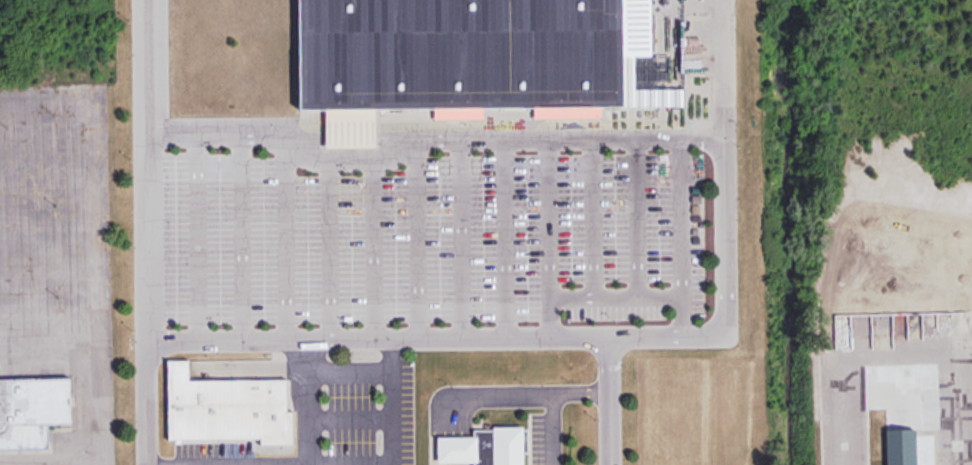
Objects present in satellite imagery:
building: (474, 59)
road: (433, 139)
road: (150, 171)
road: (726, 221)
road: (198, 236)
road: (461, 238)
building: (957, 328)
road: (379, 337)
road: (350, 373)
road: (307, 401)
road: (393, 401)
road: (148, 403)
road: (611, 403)
building: (227, 407)
road: (556, 408)
building: (33, 411)
road: (350, 417)
building: (901, 446)
building: (487, 447)
road: (330, 463)

